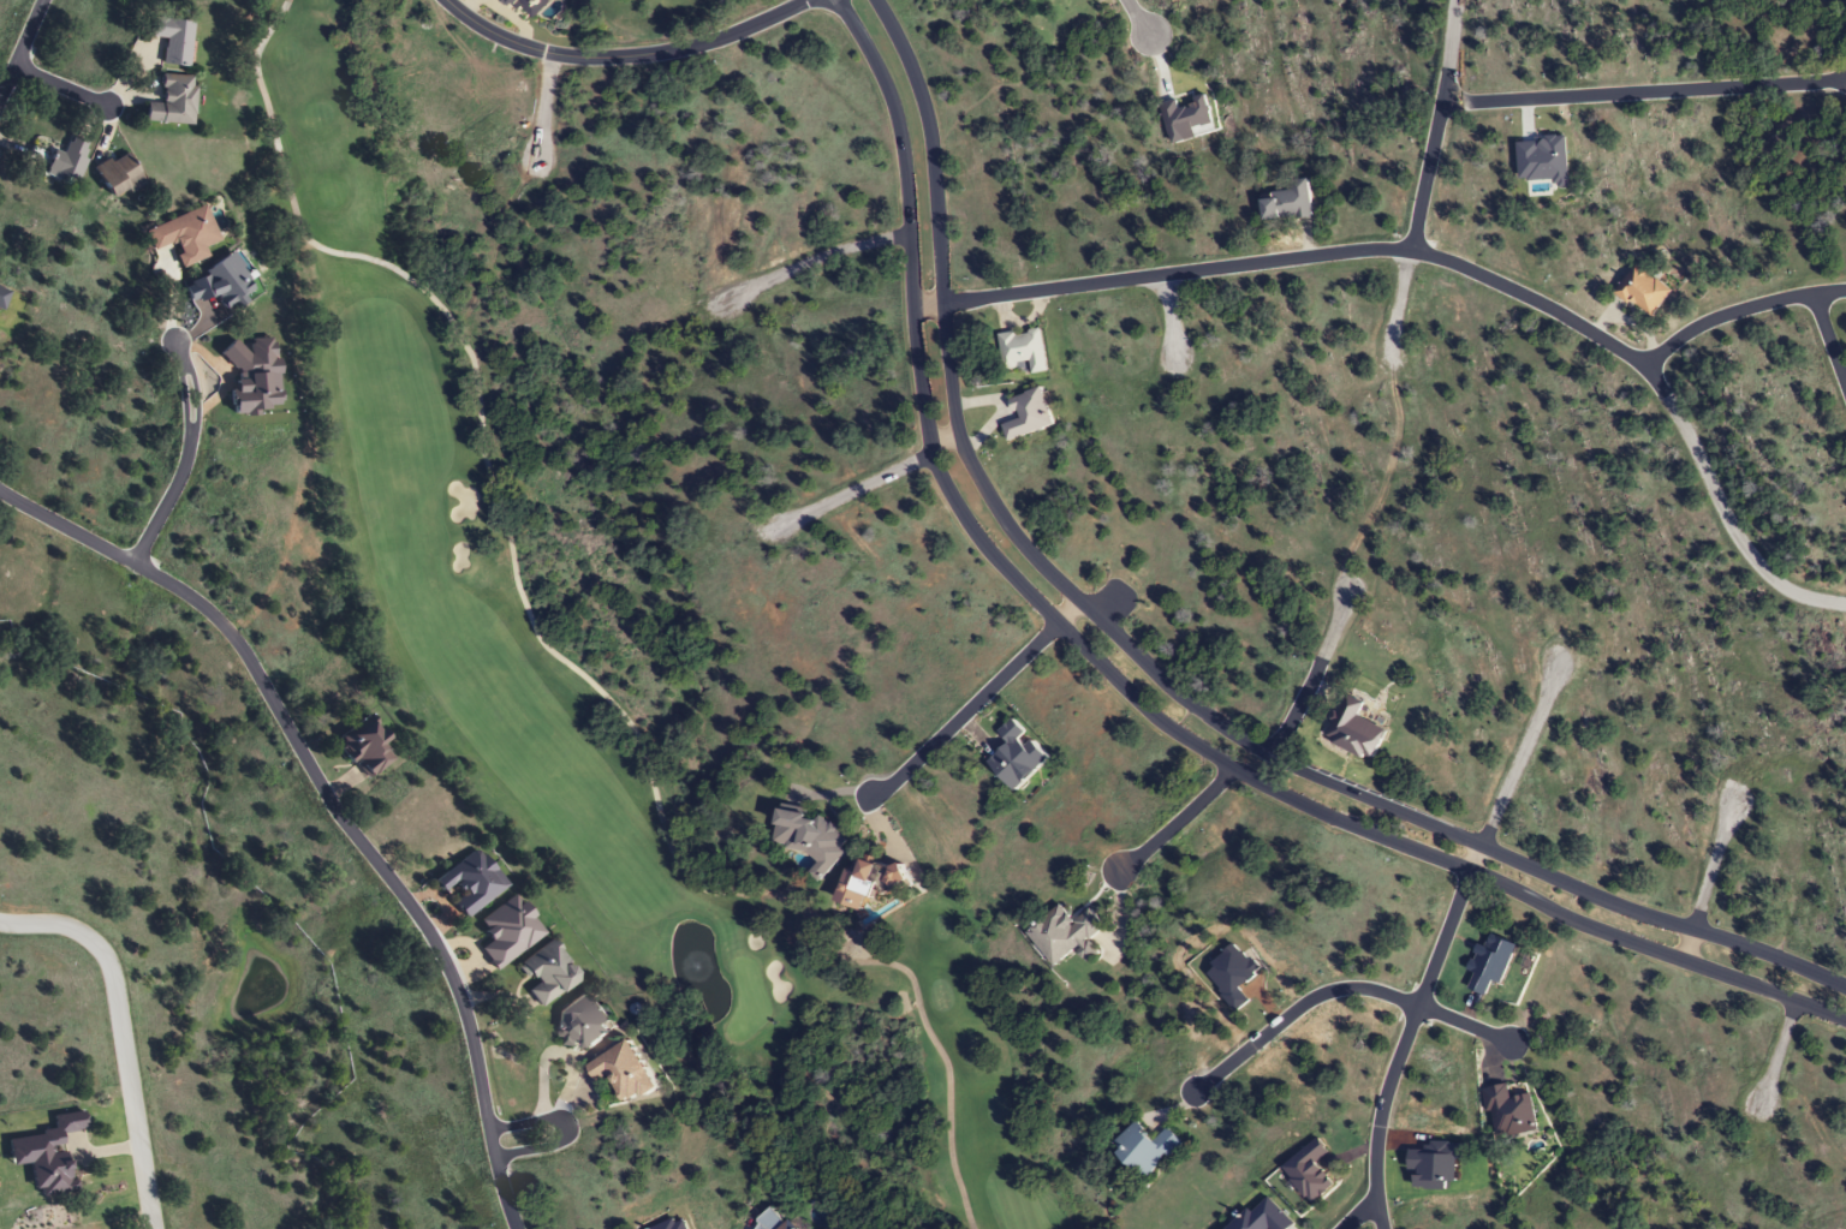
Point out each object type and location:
park: (666, 12)
road: (1137, 18)
building: (172, 40)
road: (20, 47)
road: (626, 53)
road: (60, 84)
road: (1643, 90)
building: (169, 101)
road: (543, 106)
road: (1437, 125)
building: (66, 160)
building: (114, 175)
building: (1287, 203)
building: (180, 235)
road: (810, 261)
road: (1452, 262)
building: (1642, 291)
road: (1401, 302)
road: (1737, 310)
road: (1168, 317)
road: (1829, 340)
building: (1023, 350)
building: (1026, 414)
road: (185, 457)
road: (863, 484)
road: (1067, 615)
road: (1150, 678)
road: (1310, 679)
road: (1131, 696)
park: (605, 700)
road: (964, 712)
building: (1353, 730)
building: (364, 746)
building: (1018, 756)
road: (1514, 768)
road: (329, 805)
road: (1174, 824)
building: (810, 841)
road: (1708, 877)
building: (469, 882)
building: (864, 884)
building: (504, 932)
building: (1065, 936)
building: (544, 973)
road: (1342, 988)
building: (580, 1020)
road: (118, 1033)
road: (1401, 1045)
road: (1776, 1058)
building: (620, 1070)
road: (520, 1139)
building: (1145, 1149)
building: (44, 1153)
road: (1357, 1212)
building: (1263, 1217)
building: (774, 1221)

